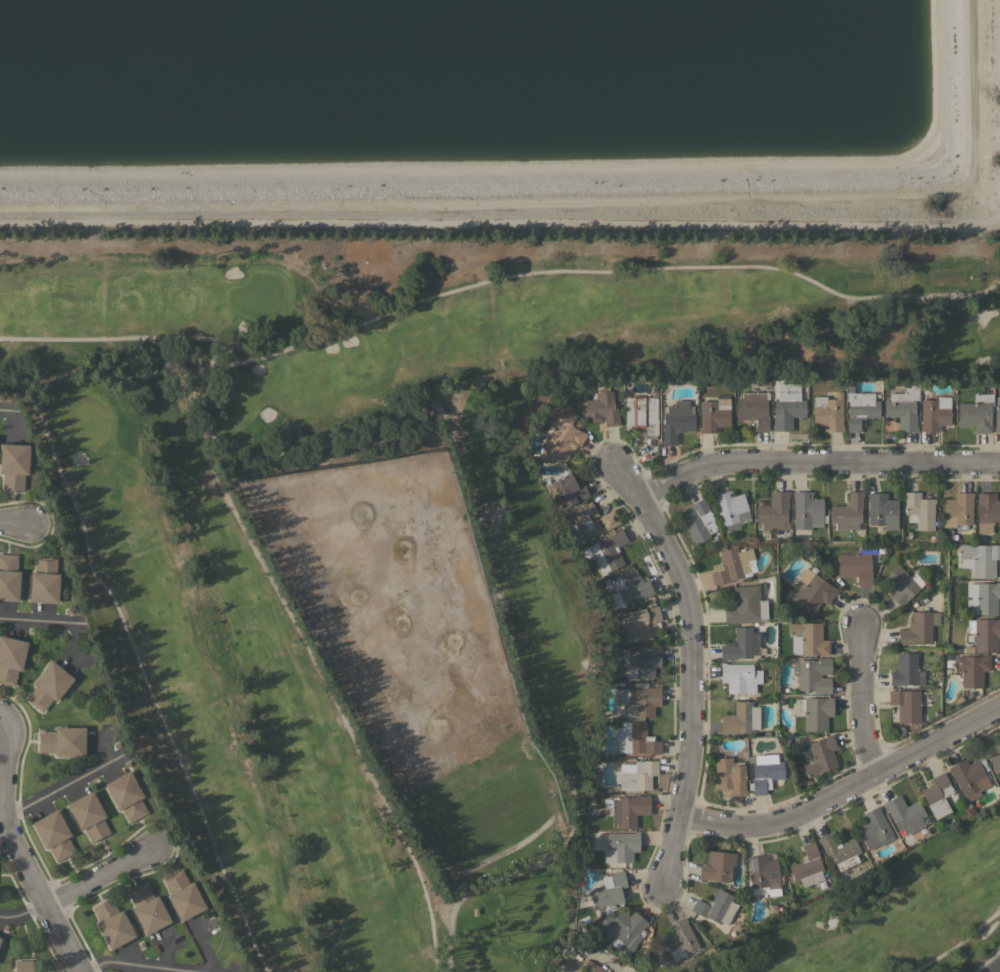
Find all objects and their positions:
road: (500, 219)
road: (598, 269)
road: (124, 336)
building: (787, 406)
building: (601, 407)
building: (860, 407)
building: (753, 409)
building: (902, 409)
road: (9, 411)
building: (639, 412)
building: (828, 412)
building: (934, 413)
building: (976, 413)
building: (714, 415)
building: (997, 415)
building: (676, 421)
building: (562, 430)
road: (814, 462)
building: (13, 465)
building: (568, 489)
building: (731, 509)
building: (957, 509)
building: (806, 510)
building: (918, 510)
building: (774, 511)
building: (881, 511)
building: (987, 511)
building: (847, 512)
building: (589, 521)
building: (698, 521)
road: (13, 523)
park: (393, 528)
building: (607, 551)
building: (979, 558)
building: (732, 565)
building: (855, 567)
building: (9, 577)
building: (44, 580)
building: (902, 584)
building: (629, 588)
building: (814, 592)
building: (985, 597)
building: (745, 605)
road: (41, 620)
building: (640, 623)
building: (917, 627)
building: (984, 634)
building: (807, 638)
building: (742, 645)
building: (11, 658)
building: (640, 661)
road: (139, 665)
road: (690, 665)
road: (317, 668)
building: (972, 669)
building: (906, 670)
building: (813, 674)
building: (739, 677)
building: (49, 686)
building: (638, 699)
road: (861, 700)
building: (905, 705)
building: (815, 712)
building: (740, 718)
building: (635, 738)
building: (63, 741)
building: (821, 754)
building: (995, 762)
building: (765, 772)
building: (729, 775)
building: (637, 776)
building: (969, 778)
road: (63, 785)
road: (844, 789)
building: (126, 795)
building: (937, 795)
road: (1, 810)
building: (628, 810)
building: (904, 814)
building: (89, 815)
building: (873, 828)
building: (54, 834)
building: (621, 846)
building: (839, 850)
road: (16, 853)
road: (545, 856)
building: (717, 866)
building: (806, 866)
building: (763, 872)
road: (97, 876)
building: (608, 890)
building: (183, 895)
building: (716, 907)
building: (148, 909)
road: (22, 913)
park: (891, 919)
building: (112, 924)
building: (622, 929)
building: (0, 939)
building: (679, 941)
road: (956, 943)
road: (134, 965)
building: (23, 966)
building: (591, 967)
road: (994, 967)

